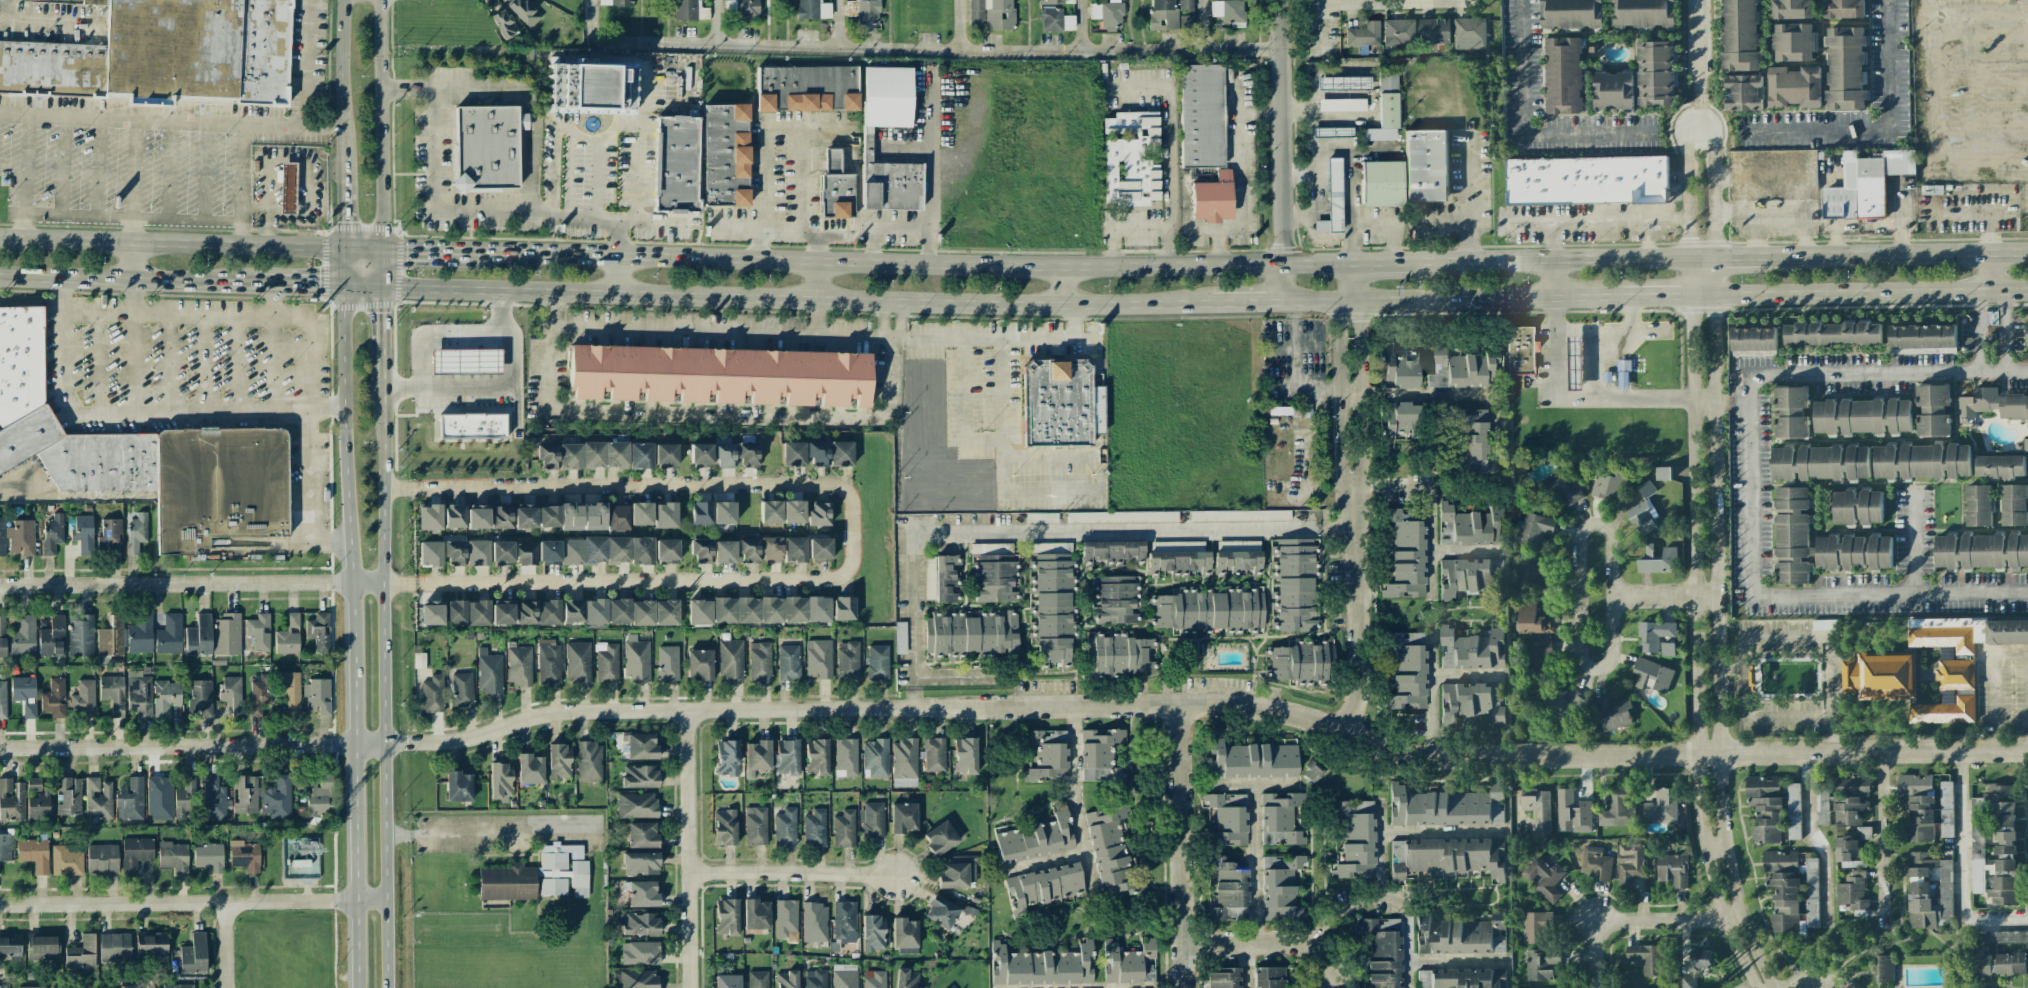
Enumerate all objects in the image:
building: (92, 2)
building: (1055, 2)
road: (1375, 2)
building: (615, 3)
building: (1185, 4)
building: (741, 8)
building: (1843, 8)
building: (1791, 9)
building: (689, 10)
building: (864, 11)
building: (523, 12)
building: (1228, 12)
building: (991, 13)
building: (1107, 13)
building: (1643, 13)
building: (1571, 14)
building: (1163, 15)
building: (1055, 20)
road: (50, 21)
road: (715, 21)
building: (1186, 22)
road: (839, 23)
road: (1201, 23)
road: (1321, 23)
road: (959, 24)
road: (1080, 25)
building: (1434, 31)
building: (1398, 32)
building: (1469, 33)
building: (1363, 34)
building: (1740, 36)
road: (638, 40)
building: (1793, 42)
road: (998, 49)
building: (164, 54)
road: (1698, 60)
road: (304, 63)
building: (1846, 68)
building: (1656, 73)
building: (1563, 75)
road: (341, 78)
building: (592, 87)
road: (645, 87)
building: (1794, 87)
building: (807, 88)
building: (1613, 90)
building: (1743, 92)
building: (1341, 104)
building: (1385, 109)
building: (1200, 115)
road: (643, 118)
road: (169, 122)
road: (380, 124)
road: (1691, 127)
road: (1704, 127)
road: (768, 128)
road: (1170, 128)
road: (1877, 130)
road: (1527, 132)
road: (602, 134)
road: (534, 135)
building: (867, 145)
parking lot: (159, 146)
building: (487, 147)
road: (1282, 150)
road: (1346, 154)
building: (726, 155)
road: (1928, 157)
building: (1131, 159)
road: (929, 160)
building: (1746, 160)
building: (675, 164)
building: (1426, 165)
road: (61, 166)
building: (1788, 166)
road: (97, 168)
road: (169, 170)
road: (205, 172)
road: (242, 173)
road: (1296, 174)
road: (25, 177)
road: (1240, 179)
building: (1587, 180)
road: (134, 181)
building: (1381, 184)
building: (1865, 184)
building: (287, 188)
building: (835, 188)
road: (431, 195)
road: (1685, 196)
road: (306, 198)
building: (1211, 198)
building: (1332, 198)
road: (1467, 198)
road: (269, 202)
road: (341, 202)
road: (1311, 210)
road: (1297, 215)
road: (132, 216)
road: (1779, 216)
road: (659, 221)
road: (1387, 227)
road: (1143, 228)
road: (779, 231)
road: (865, 231)
road: (240, 233)
road: (1755, 236)
road: (190, 243)
road: (816, 245)
road: (874, 246)
traffic signals: (343, 247)
traffic signals: (381, 248)
road: (432, 248)
road: (930, 249)
road: (1898, 255)
road: (1741, 257)
road: (1700, 258)
road: (1551, 259)
road: (133, 261)
road: (915, 261)
road: (1382, 261)
road: (343, 267)
road: (1714, 267)
road: (381, 268)
road: (1989, 272)
road: (616, 273)
road: (1553, 278)
road: (816, 279)
road: (125, 280)
road: (1065, 284)
road: (296, 286)
traffic signals: (343, 288)
road: (362, 288)
traffic signals: (382, 288)
road: (1858, 293)
road: (1654, 297)
road: (797, 298)
road: (1451, 299)
road: (1248, 300)
road: (31, 302)
road: (1976, 311)
road: (2003, 311)
road: (815, 317)
road: (308, 327)
road: (1623, 330)
road: (383, 331)
road: (719, 331)
building: (2027, 332)
building: (1832, 333)
road: (437, 336)
building: (1922, 338)
building: (1753, 339)
road: (1000, 340)
road: (133, 347)
road: (1588, 348)
road: (272, 349)
road: (1553, 349)
building: (1520, 350)
road: (1976, 355)
road: (2005, 355)
road: (98, 363)
building: (466, 363)
gas station: (466, 363)
road: (169, 364)
road: (203, 365)
road: (237, 365)
building: (1398, 369)
building: (1462, 369)
building: (723, 375)
road: (492, 388)
road: (1461, 396)
road: (1634, 400)
road: (1732, 402)
building: (1992, 405)
road: (326, 407)
building: (1932, 410)
building: (1791, 412)
road: (718, 413)
road: (123, 414)
building: (1862, 416)
building: (1398, 420)
building: (472, 428)
road: (981, 438)
building: (1469, 439)
building: (2025, 446)
building: (830, 453)
building: (724, 454)
building: (747, 454)
building: (793, 454)
building: (582, 455)
building: (639, 455)
building: (665, 455)
building: (700, 455)
building: (143, 456)
road: (1042, 457)
building: (1921, 461)
building: (1819, 462)
building: (1999, 466)
building: (1662, 473)
road: (1390, 482)
road: (1752, 483)
building: (1609, 484)
road: (634, 486)
building: (1562, 486)
road: (1022, 490)
road: (68, 495)
road: (1353, 498)
building: (1978, 505)
building: (2014, 505)
building: (1856, 507)
building: (770, 512)
building: (793, 512)
building: (641, 513)
building: (712, 513)
building: (819, 514)
building: (454, 515)
building: (665, 515)
building: (1239, 515)
building: (477, 516)
building: (548, 516)
building: (1125, 516)
building: (1642, 516)
building: (502, 517)
building: (570, 517)
building: (594, 517)
building: (617, 517)
building: (1041, 517)
building: (429, 518)
building: (525, 518)
building: (1470, 526)
building: (1533, 529)
road: (1047, 531)
building: (136, 532)
building: (52, 533)
building: (83, 533)
building: (1792, 535)
building: (2, 536)
building: (21, 537)
building: (109, 537)
road: (1917, 547)
building: (818, 548)
building: (771, 549)
building: (794, 549)
building: (641, 550)
building: (748, 550)
building: (1981, 550)
building: (594, 551)
building: (666, 551)
building: (701, 551)
building: (724, 551)
road: (1465, 551)
building: (455, 552)
building: (476, 552)
building: (502, 552)
building: (549, 552)
building: (1853, 552)
building: (430, 553)
building: (524, 553)
building: (1112, 553)
building: (1406, 553)
road: (1432, 555)
building: (1237, 557)
building: (1178, 558)
building: (1658, 561)
building: (993, 576)
building: (1469, 576)
building: (946, 578)
building: (1530, 579)
road: (638, 581)
road: (190, 582)
building: (1294, 584)
road: (1665, 595)
road: (1577, 596)
building: (1114, 600)
building: (843, 608)
building: (1051, 608)
building: (771, 609)
building: (572, 610)
building: (1210, 611)
building: (537, 612)
building: (619, 612)
building: (666, 612)
building: (699, 612)
building: (443, 613)
building: (477, 613)
building: (501, 613)
road: (1467, 614)
building: (1532, 619)
road: (1693, 629)
building: (259, 631)
building: (318, 631)
building: (140, 633)
road: (1832, 633)
building: (227, 634)
building: (970, 634)
building: (1654, 634)
building: (169, 635)
building: (2, 636)
building: (23, 636)
building: (81, 636)
building: (199, 636)
building: (288, 636)
building: (52, 637)
building: (111, 637)
road: (352, 637)
building: (900, 639)
building: (1471, 649)
building: (1667, 650)
building: (1118, 654)
building: (636, 658)
building: (818, 658)
building: (730, 659)
building: (1540, 659)
building: (848, 660)
building: (1958, 660)
building: (548, 661)
building: (578, 661)
building: (760, 661)
building: (877, 661)
building: (606, 662)
building: (788, 662)
building: (667, 663)
building: (1302, 663)
building: (700, 664)
building: (519, 665)
building: (1407, 670)
building: (489, 672)
building: (1652, 675)
road: (949, 676)
road: (1468, 676)
building: (1880, 677)
road: (382, 681)
road: (1993, 686)
building: (290, 688)
building: (462, 689)
building: (112, 693)
building: (139, 693)
building: (231, 694)
building: (260, 694)
building: (433, 694)
building: (24, 695)
building: (165, 696)
building: (53, 697)
building: (199, 697)
building: (317, 697)
road: (1718, 698)
building: (82, 699)
building: (2, 700)
building: (1471, 704)
building: (1562, 704)
building: (1612, 712)
road: (646, 713)
road: (1834, 736)
road: (191, 745)
building: (641, 746)
building: (933, 754)
building: (965, 755)
building: (1100, 755)
building: (1047, 756)
building: (757, 757)
building: (786, 757)
building: (817, 757)
building: (845, 757)
building: (875, 757)
road: (1466, 757)
building: (727, 758)
building: (904, 758)
building: (1251, 760)
building: (559, 761)
building: (589, 761)
building: (530, 769)
building: (1314, 773)
building: (640, 776)
building: (500, 780)
building: (458, 786)
building: (245, 794)
building: (318, 794)
building: (68, 796)
building: (184, 797)
building: (98, 798)
building: (159, 798)
building: (213, 798)
building: (278, 799)
building: (1842, 799)
building: (11, 800)
building: (37, 800)
building: (130, 800)
road: (1073, 800)
building: (637, 805)
building: (1917, 805)
building: (1661, 806)
building: (1445, 807)
building: (1537, 808)
building: (1765, 808)
building: (1616, 811)
building: (1793, 811)
building: (1572, 812)
building: (903, 818)
building: (1227, 818)
building: (1279, 818)
building: (2003, 818)
building: (872, 819)
road: (1377, 825)
building: (756, 826)
building: (724, 827)
building: (785, 827)
building: (814, 828)
building: (844, 829)
road: (1439, 832)
road: (491, 835)
building: (642, 835)
building: (940, 838)
building: (1036, 839)
building: (1355, 839)
road: (1254, 842)
road: (1821, 842)
road: (1894, 843)
building: (1849, 844)
road: (1181, 845)
building: (4, 847)
road: (687, 850)
building: (135, 853)
building: (1112, 853)
building: (34, 854)
building: (244, 855)
building: (173, 856)
building: (209, 857)
building: (1445, 857)
building: (102, 859)
building: (66, 861)
building: (1780, 861)
road: (1047, 862)
building: (640, 863)
building: (1595, 863)
building: (1630, 863)
building: (1990, 864)
building: (1673, 868)
road: (1966, 868)
building: (957, 872)
building: (537, 876)
road: (791, 876)
building: (1544, 878)
building: (1044, 886)
building: (1280, 887)
building: (1929, 888)
building: (1228, 890)
building: (1852, 891)
building: (642, 894)
building: (1794, 899)
road: (1395, 901)
road: (192, 903)
building: (941, 912)
building: (756, 914)
building: (726, 917)
road: (1637, 919)
building: (786, 920)
building: (844, 921)
building: (815, 922)
building: (639, 923)
building: (1536, 927)
building: (873, 932)
building: (1460, 934)
building: (905, 936)
road: (1272, 943)
road: (1407, 944)
road: (225, 945)
building: (43, 946)
building: (114, 946)
building: (152, 946)
building: (10, 947)
building: (1381, 951)
building: (2001, 951)
building: (81, 953)
building: (640, 953)
building: (193, 955)
road: (1451, 959)
building: (1650, 959)
building: (1128, 963)
building: (1540, 965)
building: (1041, 966)
building: (1694, 967)
building: (1883, 968)
building: (845, 976)
building: (1270, 977)
building: (1224, 978)
building: (1462, 978)
building: (635, 979)
building: (757, 979)
building: (786, 979)
building: (815, 979)
building: (874, 979)
building: (905, 979)
building: (727, 981)
road: (1825, 981)
road: (1787, 984)
road: (1798, 985)
building: (178, 986)
building: (30, 987)
road: (1165, 987)
building: (1660, 987)

